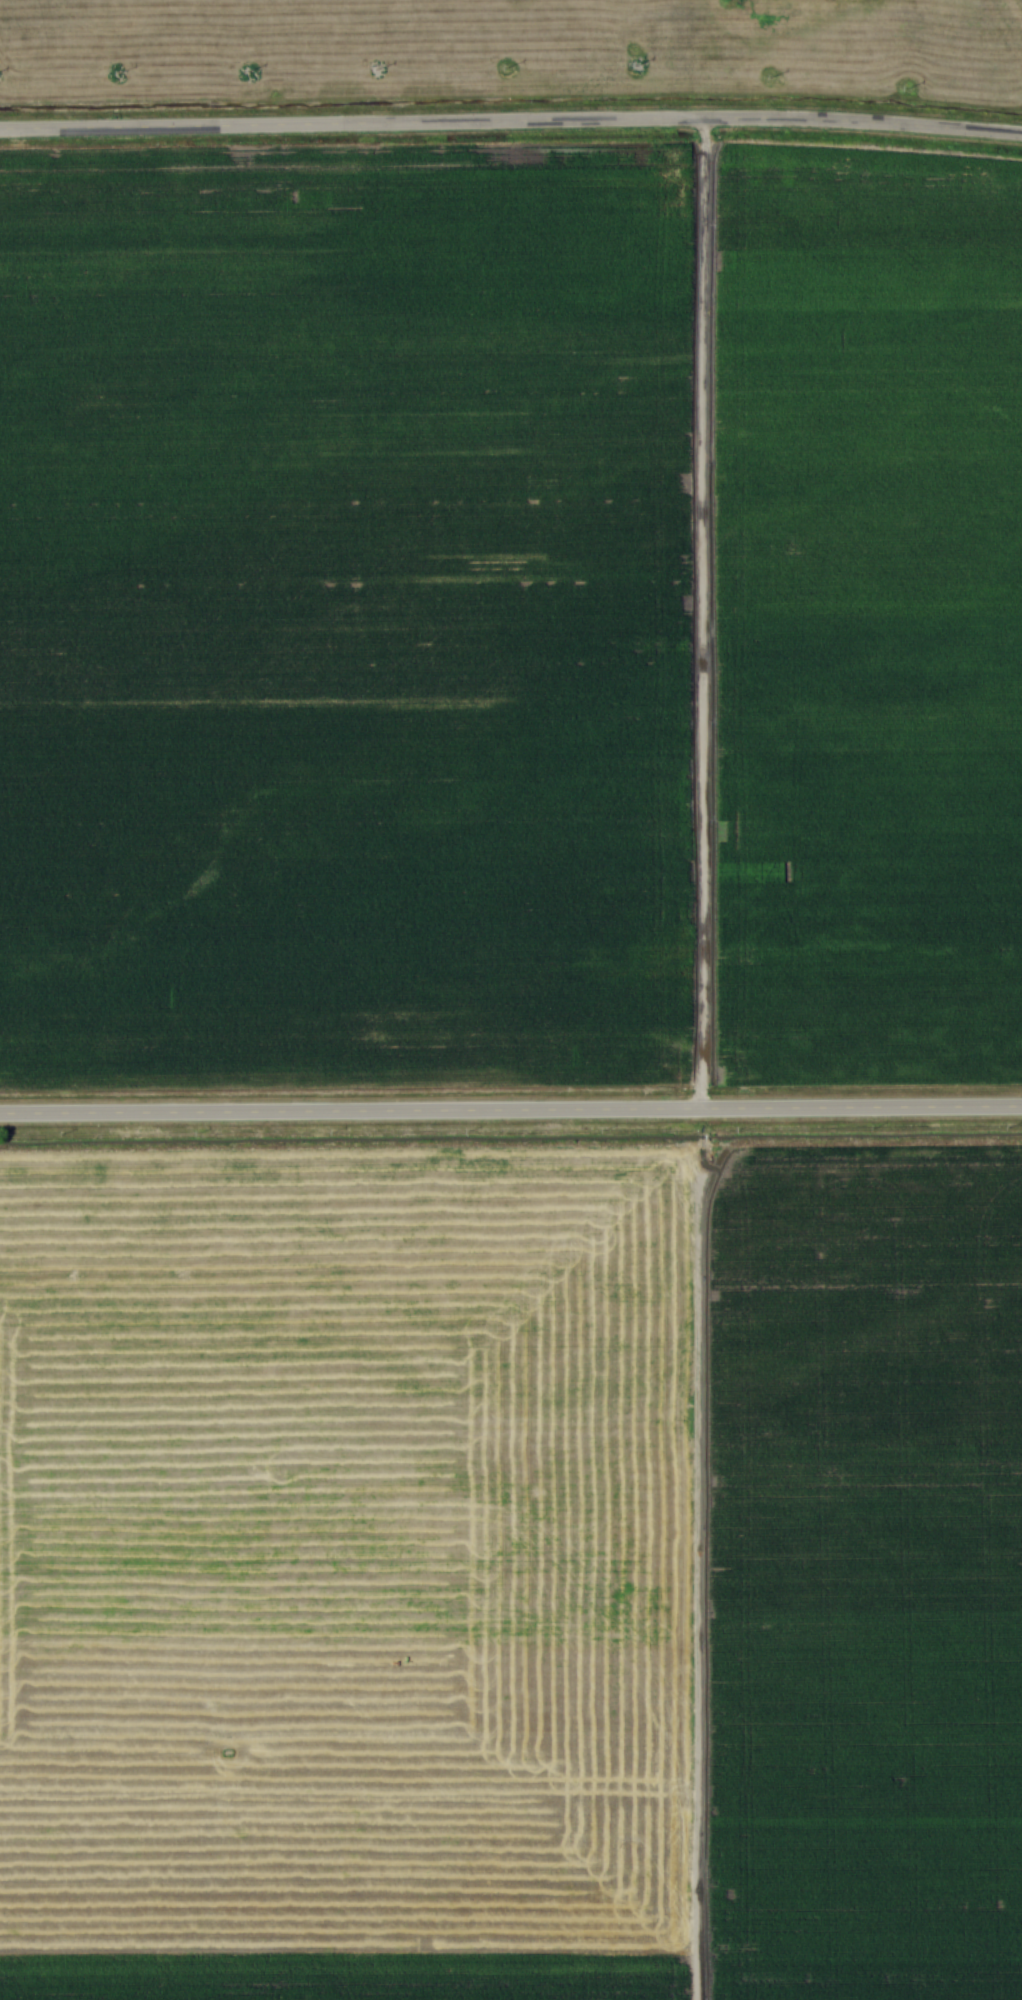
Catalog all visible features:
road: (511, 123)
crop: (347, 616)
road: (511, 1108)
crop: (872, 1560)
crop: (348, 1566)

